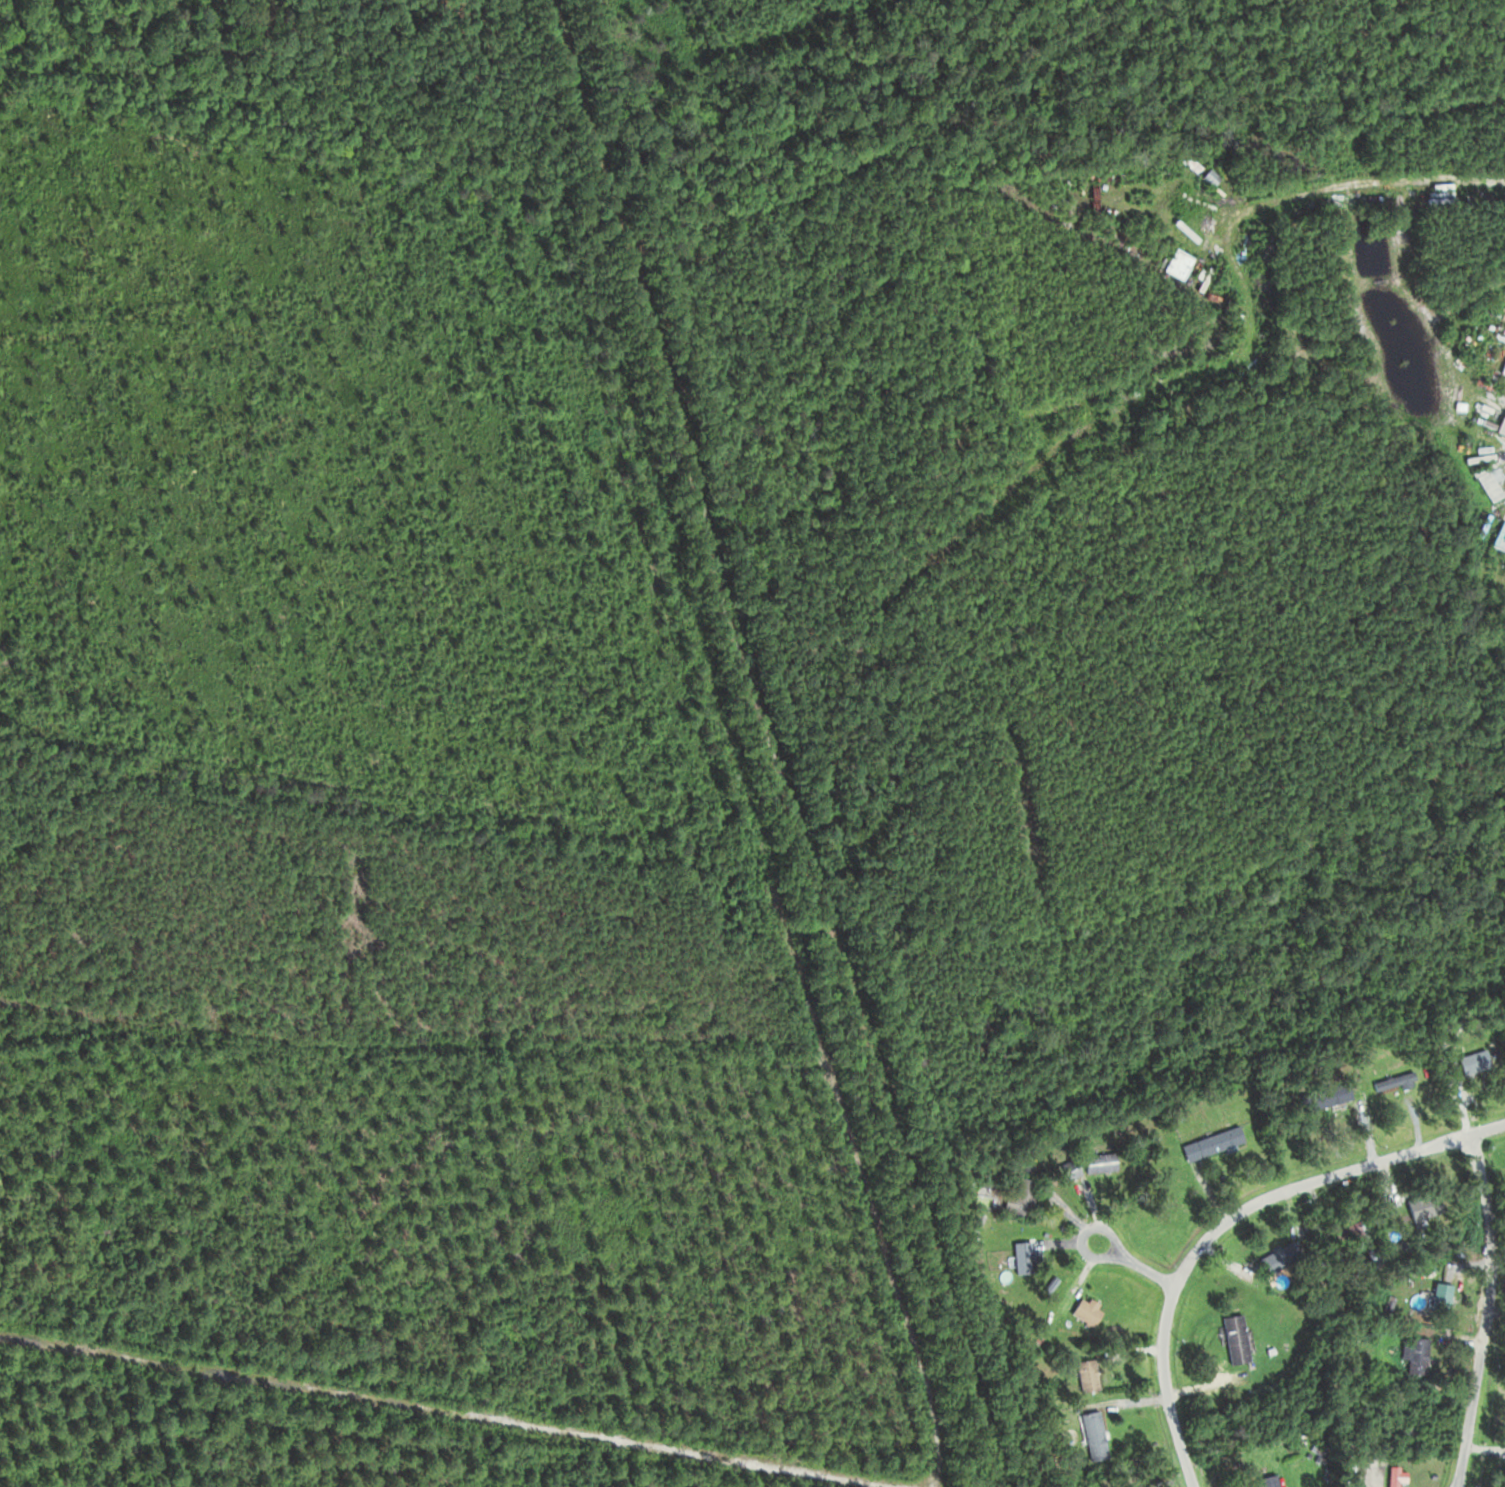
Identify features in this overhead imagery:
building: (1187, 264)
building: (1485, 483)
building: (1468, 1061)
building: (1390, 1082)
building: (1322, 1096)
building: (1208, 1142)
building: (1088, 1163)
building: (1017, 1198)
building: (1419, 1207)
road: (1229, 1219)
building: (1018, 1255)
road: (1137, 1262)
building: (1436, 1294)
building: (1083, 1310)
road: (1488, 1310)
building: (1230, 1338)
building: (1412, 1355)
building: (1083, 1374)
road: (396, 1402)
building: (1405, 1430)
building: (1089, 1435)
building: (1264, 1480)

